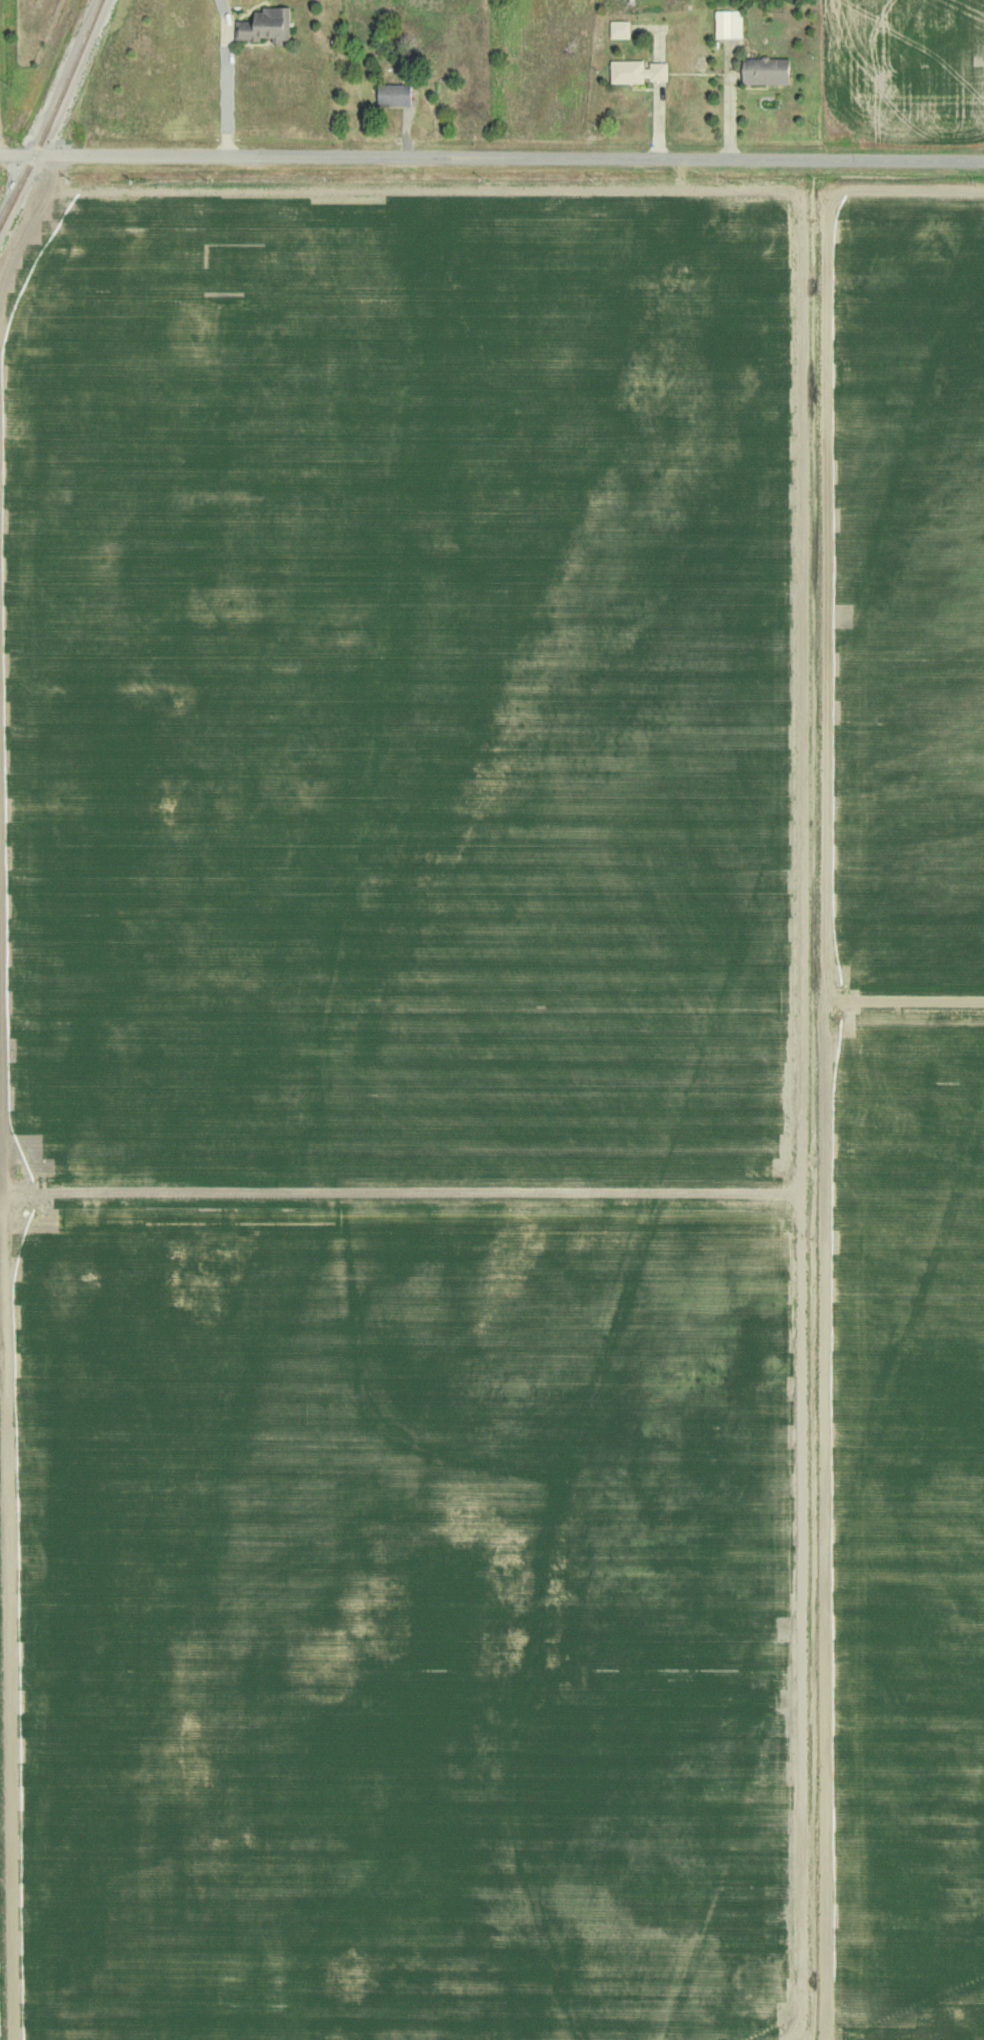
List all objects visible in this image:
building: (726, 24)
building: (263, 25)
building: (634, 71)
building: (761, 71)
road: (225, 88)
building: (390, 95)
road: (728, 107)
road: (660, 109)
railway: (53, 112)
road: (491, 160)

